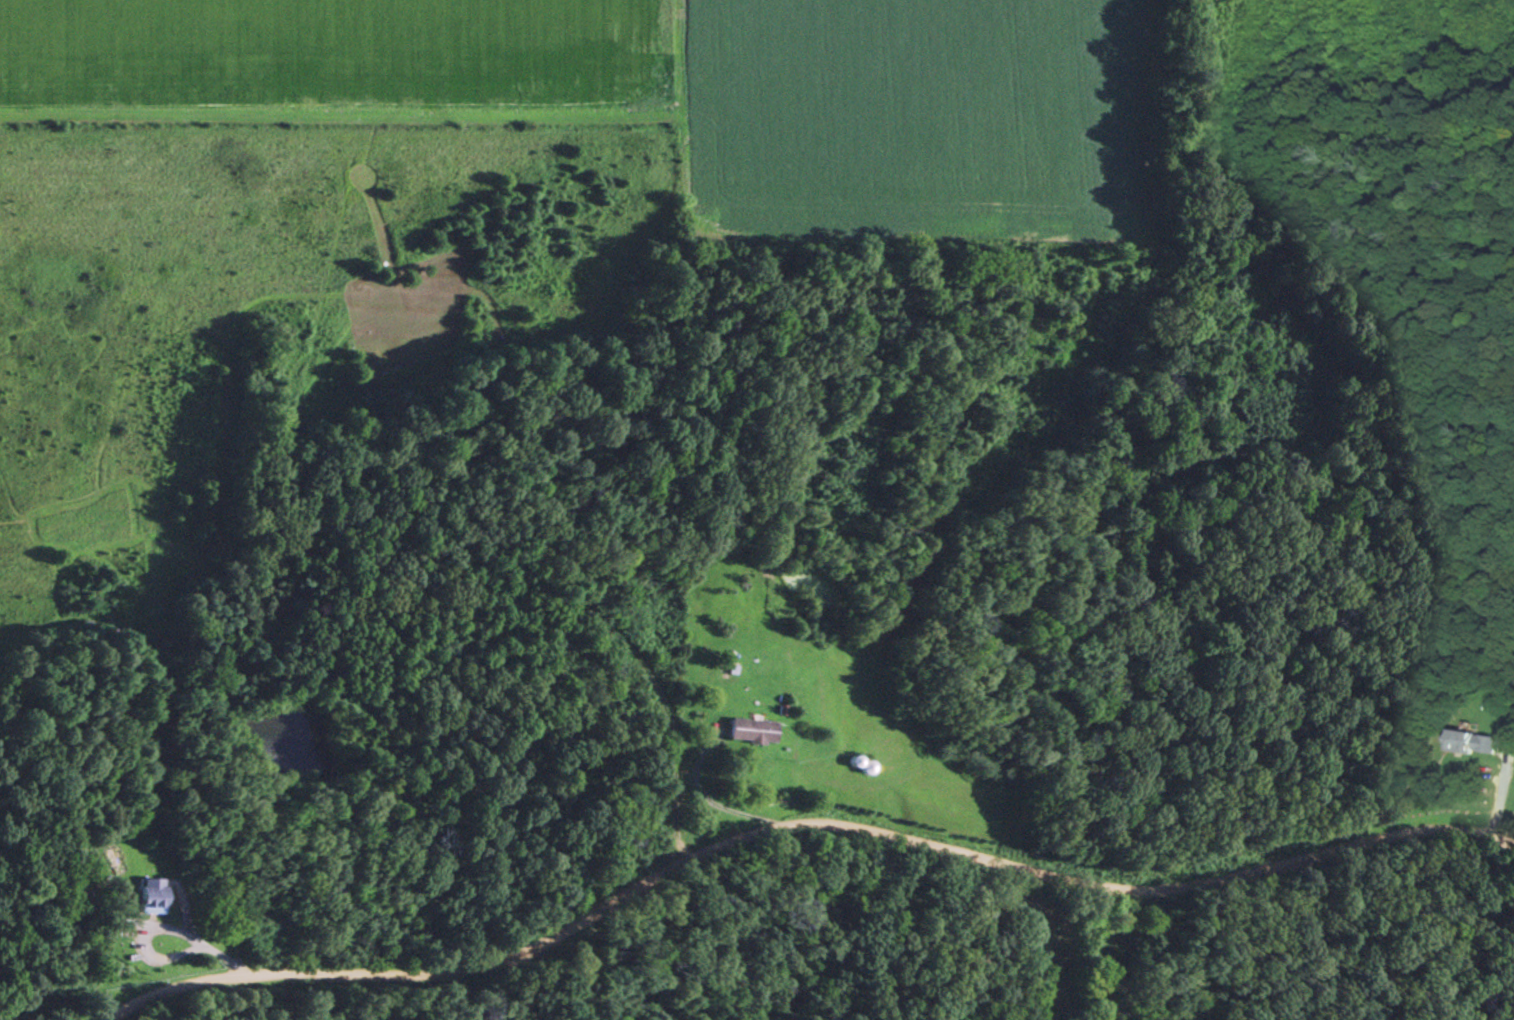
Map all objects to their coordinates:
building: (752, 730)
building: (1469, 741)
road: (796, 818)
building: (151, 895)
road: (67, 982)

